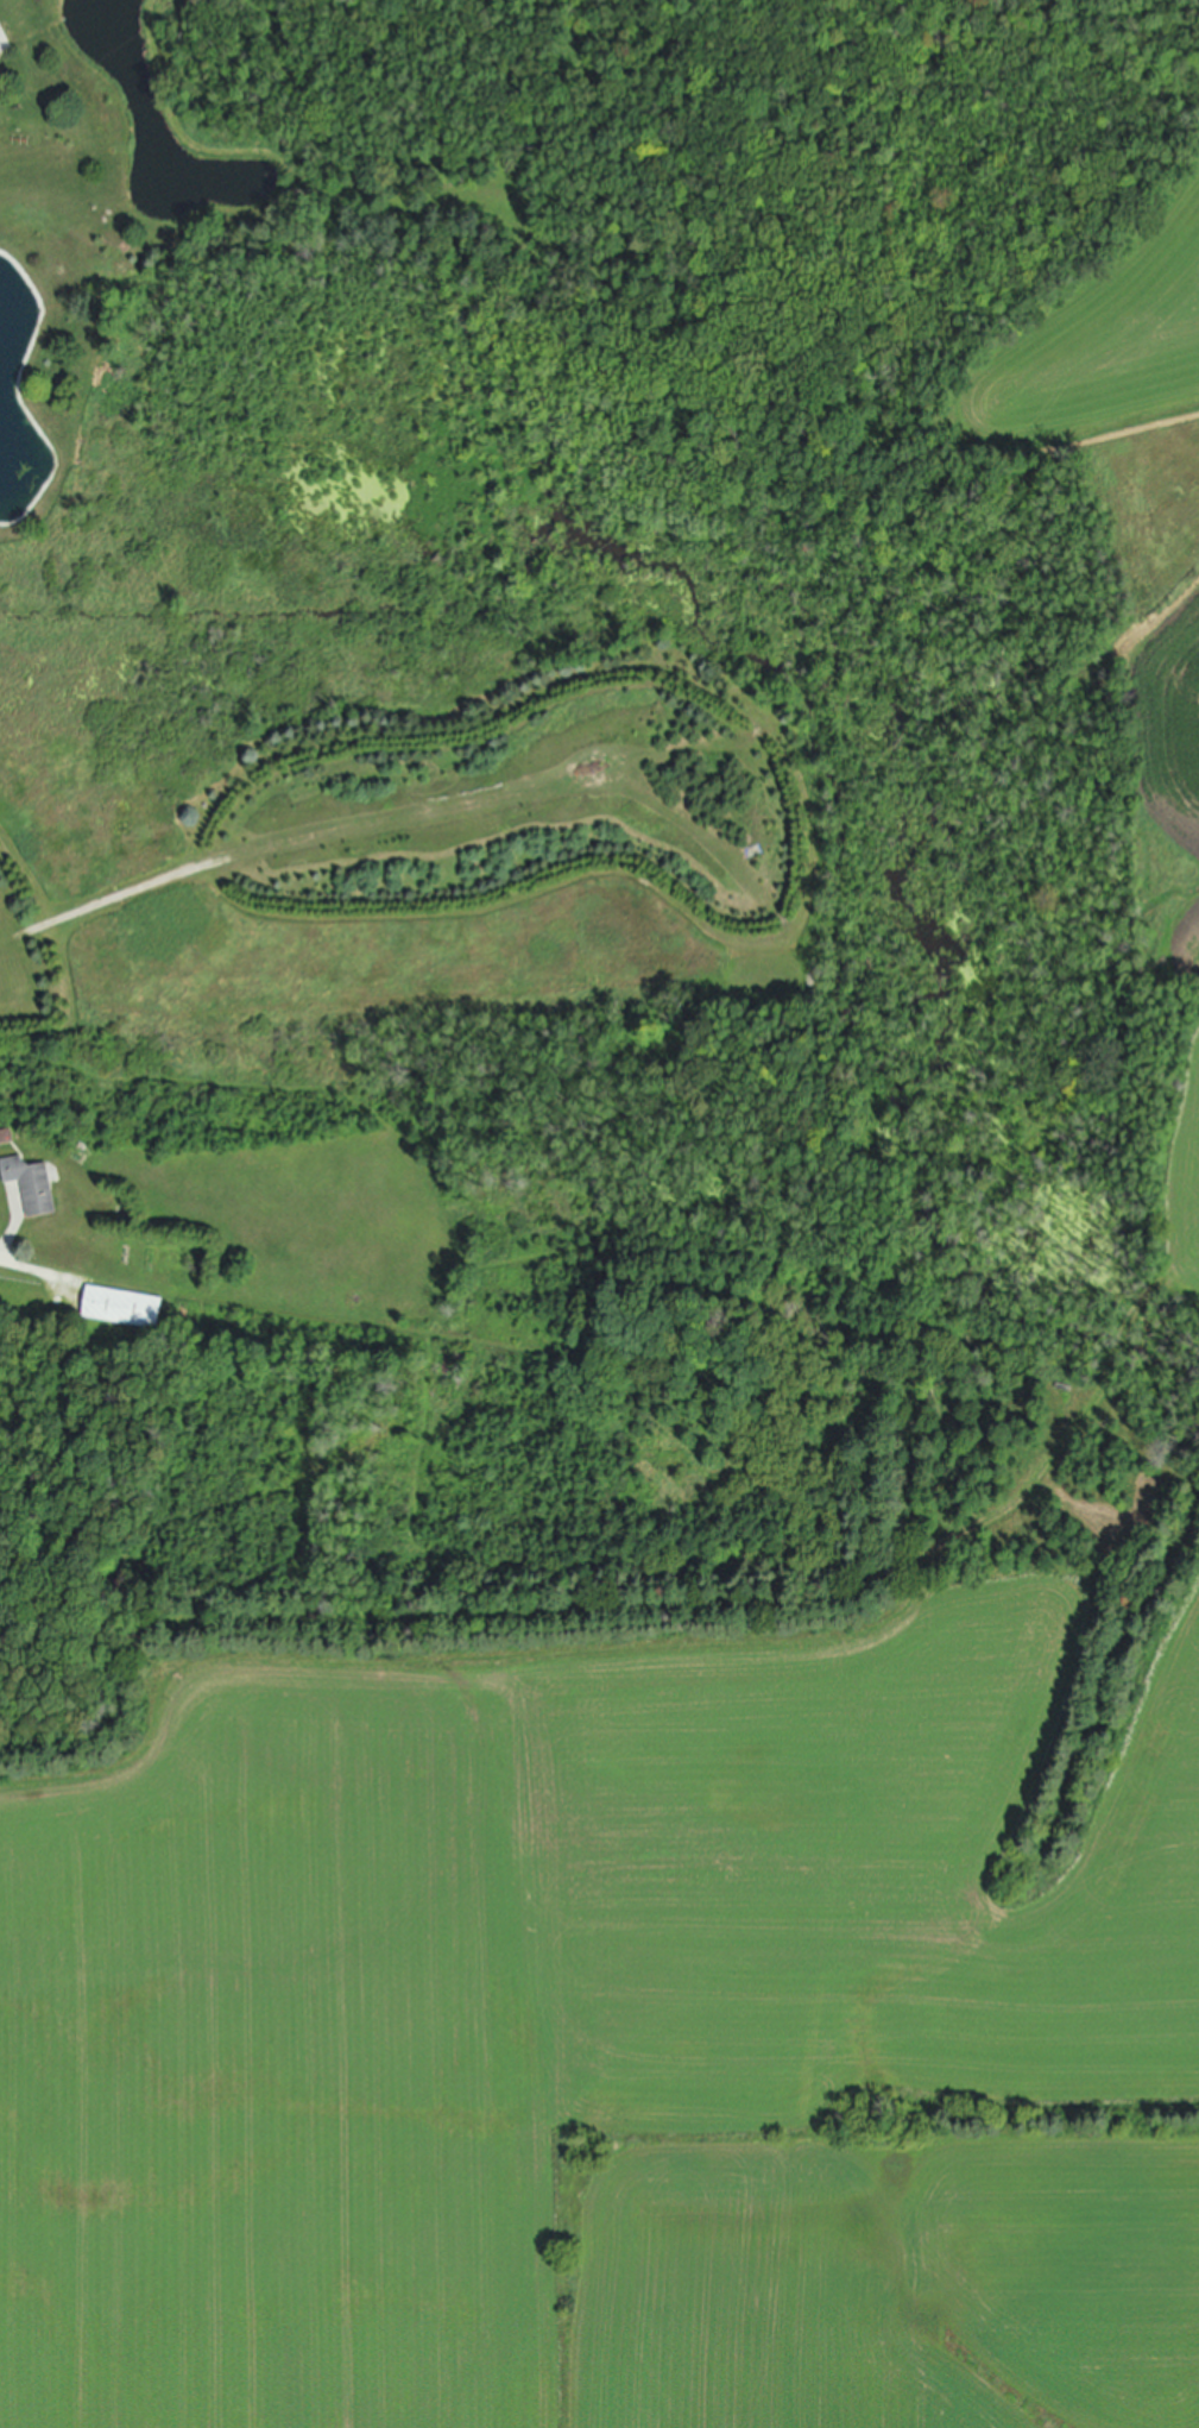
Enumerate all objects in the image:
building: (31, 1185)
building: (122, 1308)

